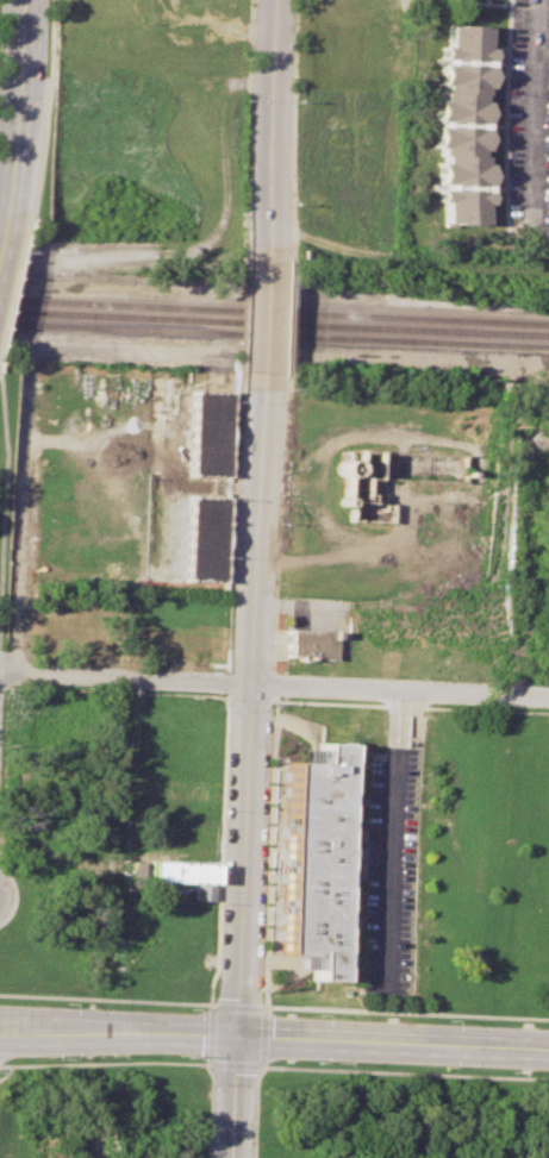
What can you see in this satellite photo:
road: (23, 113)
road: (534, 113)
parking lot: (528, 123)
building: (461, 125)
road: (272, 130)
road: (2, 237)
street lamp: (24, 249)
railway: (274, 309)
road: (267, 317)
railway: (274, 321)
railway: (274, 333)
building: (208, 433)
building: (393, 477)
road: (5, 518)
road: (20, 518)
building: (205, 539)
building: (310, 644)
road: (274, 684)
road: (252, 702)
road: (393, 844)
building: (312, 855)
parking lot: (388, 874)
building: (188, 875)
street lamp: (220, 902)
street lamp: (63, 1002)
street lamp: (189, 1008)
street lamp: (319, 1014)
street lamp: (450, 1020)
road: (119, 1026)
road: (394, 1041)
street lamp: (186, 1057)
street lamp: (62, 1058)
street lamp: (317, 1062)
street lamp: (444, 1068)
street lamp: (207, 1084)
road: (237, 1095)

